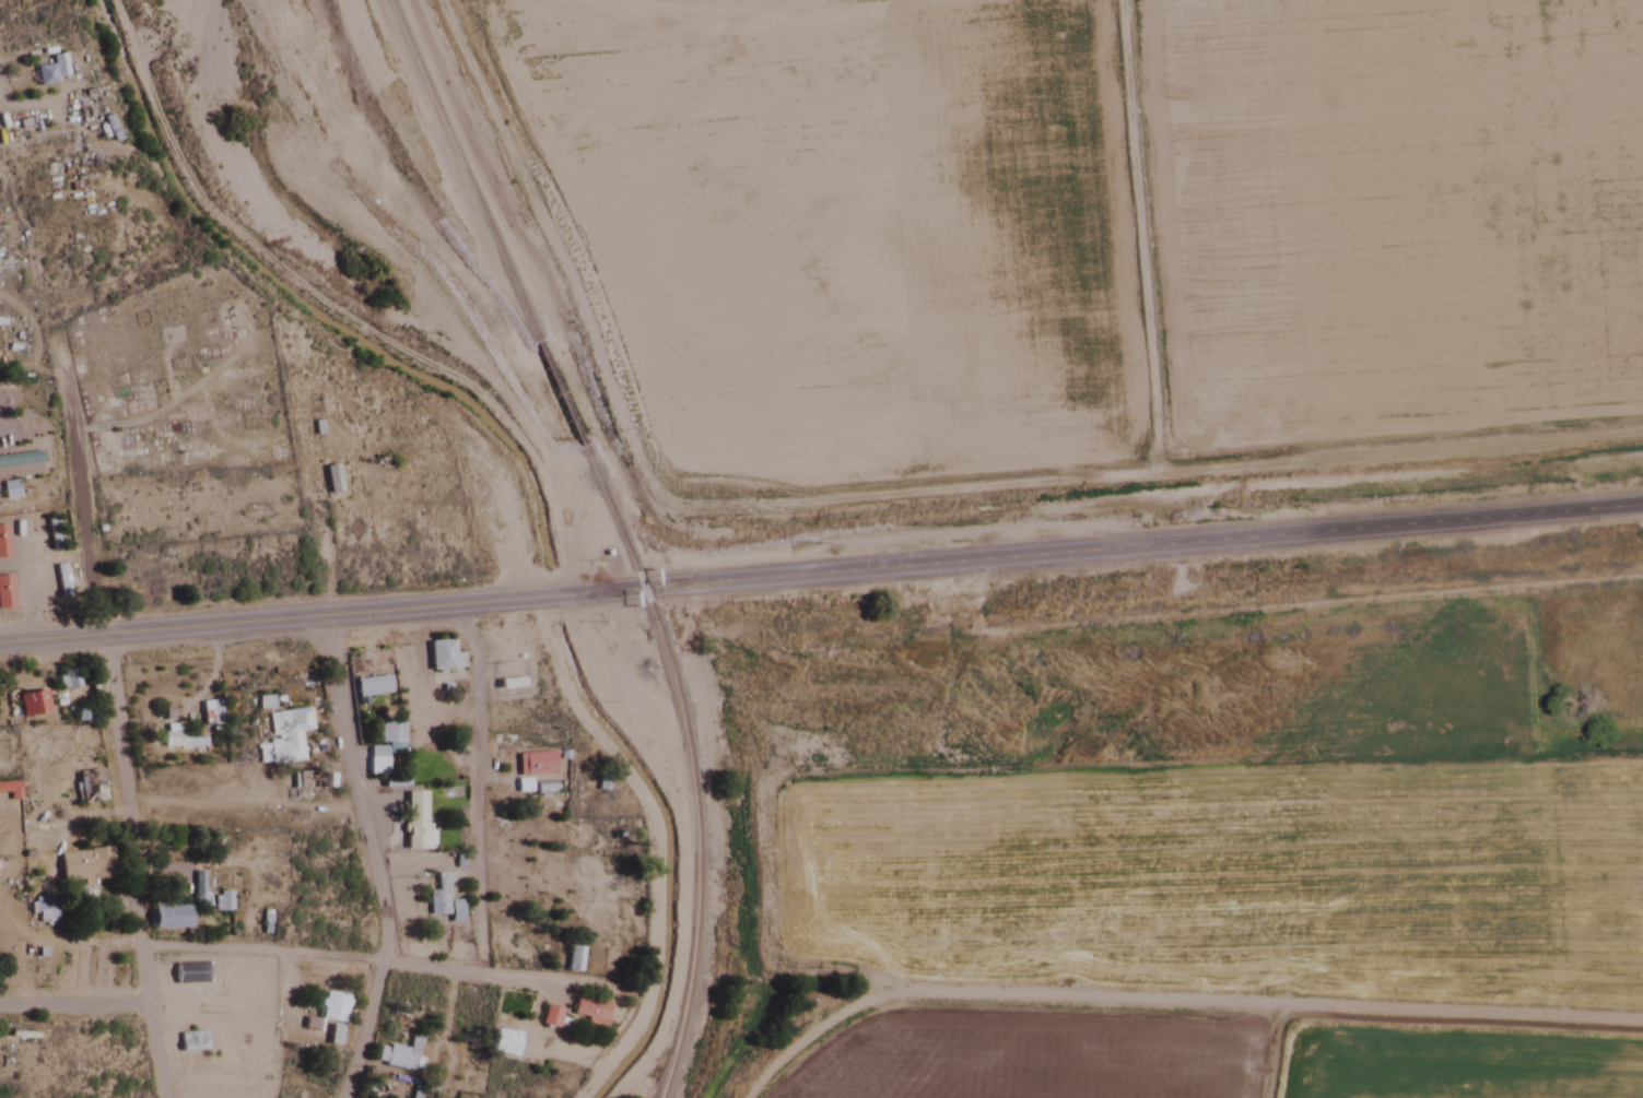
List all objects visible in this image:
building: (49, 71)
railway: (431, 104)
railway: (497, 258)
park: (177, 379)
building: (19, 460)
building: (331, 480)
building: (9, 491)
building: (54, 534)
building: (2, 543)
road: (821, 574)
building: (61, 581)
building: (5, 593)
building: (444, 658)
building: (67, 681)
building: (510, 684)
building: (371, 686)
railway: (673, 690)
building: (32, 704)
building: (210, 713)
building: (83, 716)
road: (114, 719)
building: (388, 733)
building: (285, 735)
building: (173, 741)
building: (376, 761)
building: (535, 774)
building: (307, 782)
building: (93, 787)
building: (10, 789)
road: (474, 789)
building: (415, 823)
road: (369, 859)
crop: (1197, 861)
building: (83, 864)
building: (222, 901)
building: (435, 902)
building: (43, 906)
building: (455, 911)
building: (168, 917)
building: (573, 959)
road: (379, 961)
building: (183, 991)
building: (331, 1007)
road: (73, 1008)
building: (589, 1011)
building: (549, 1016)
building: (504, 1042)
building: (400, 1055)

